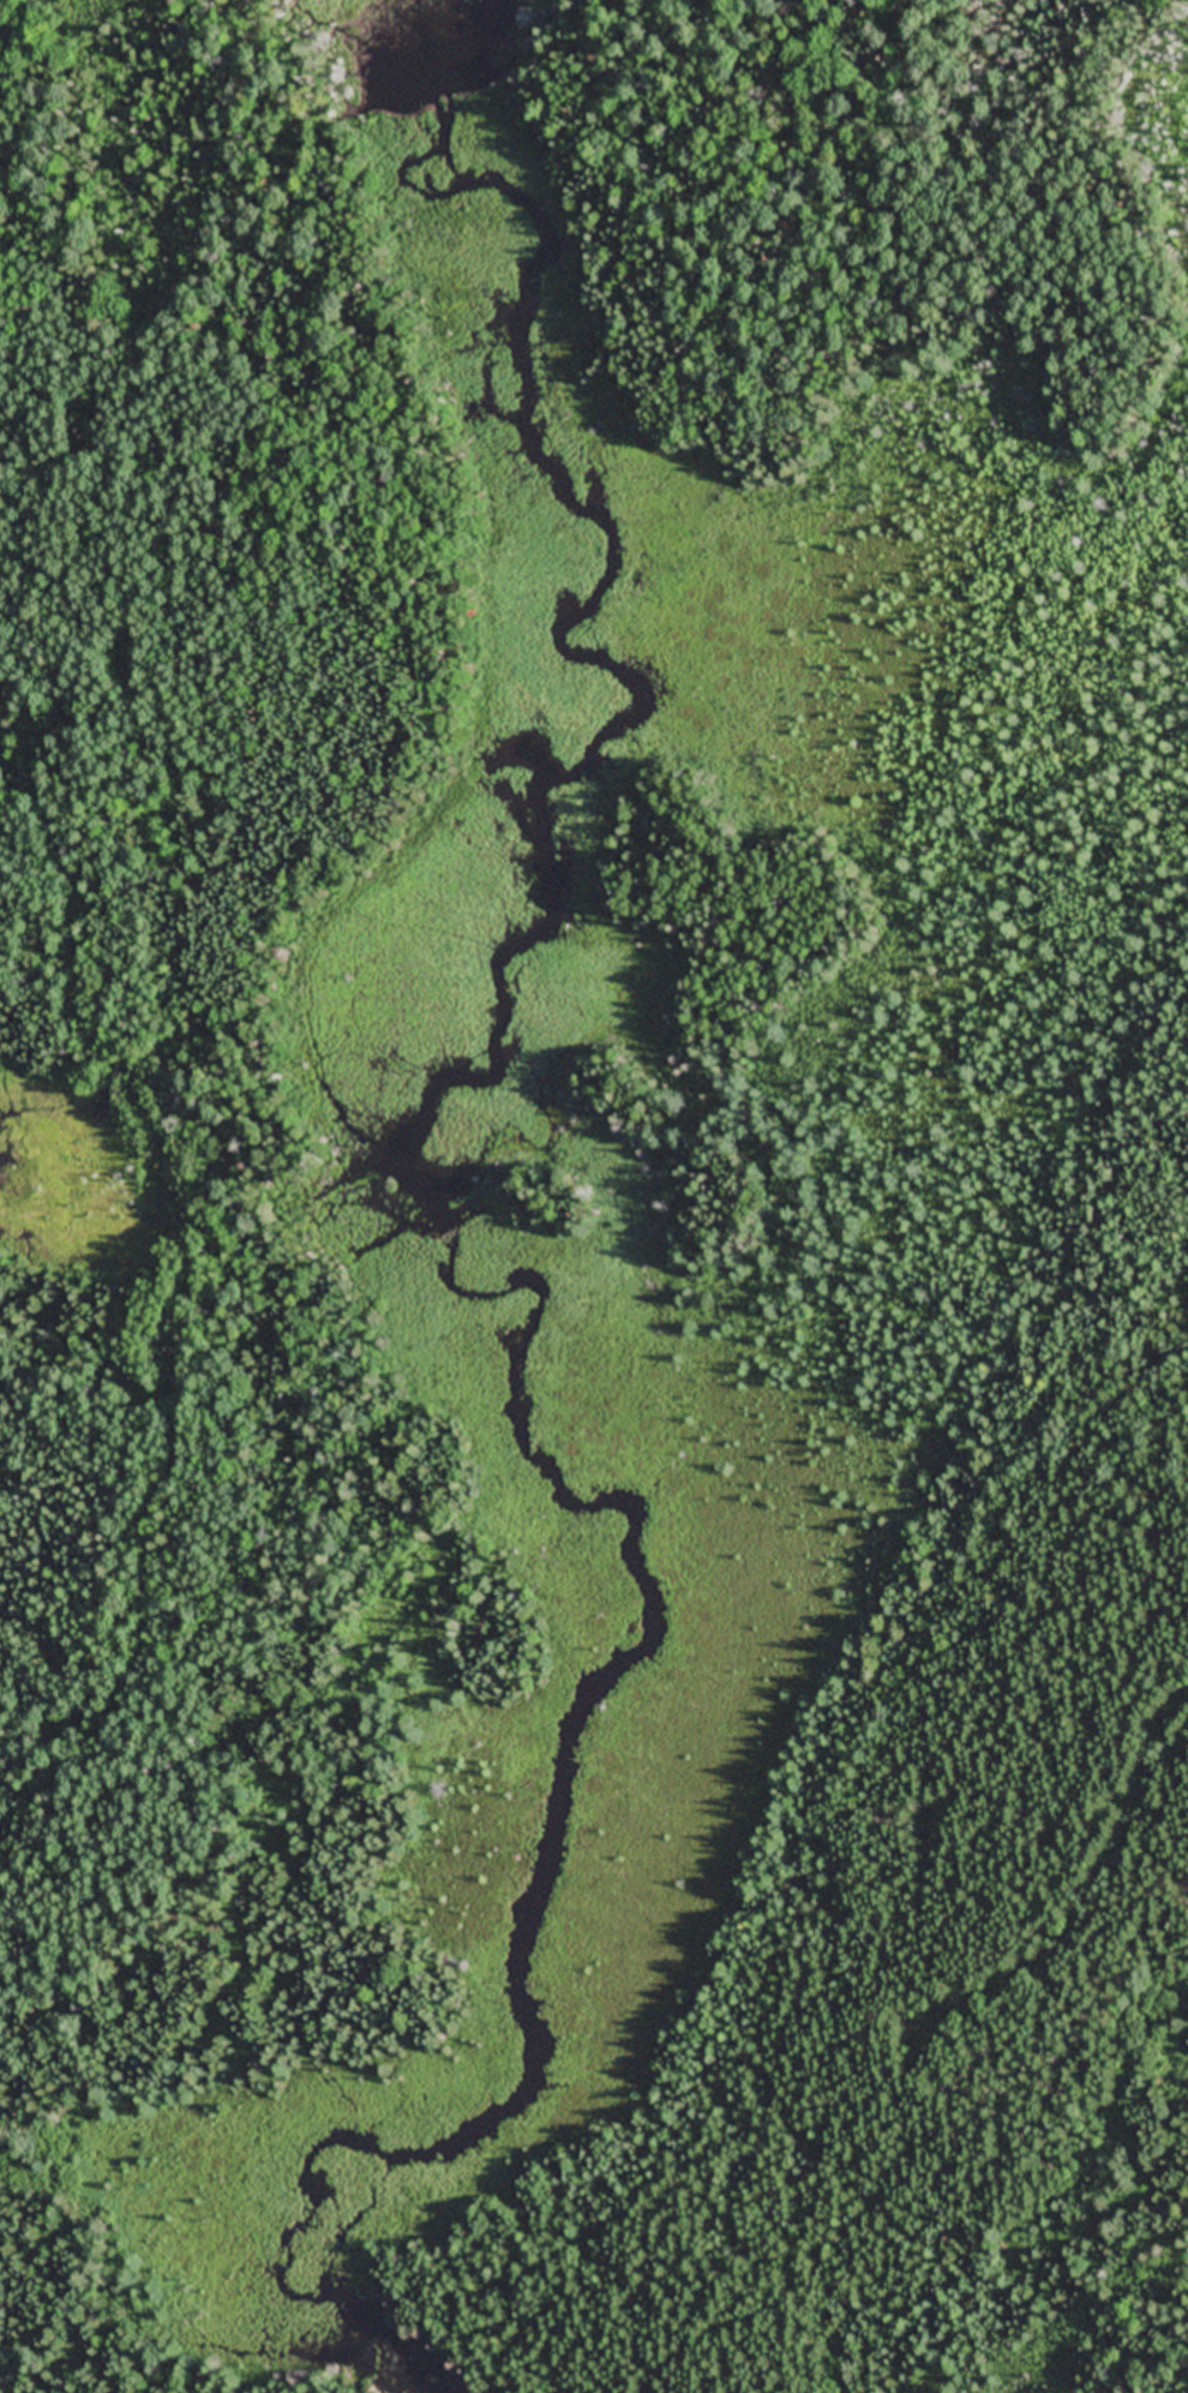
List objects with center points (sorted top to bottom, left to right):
road: (167, 1227)

